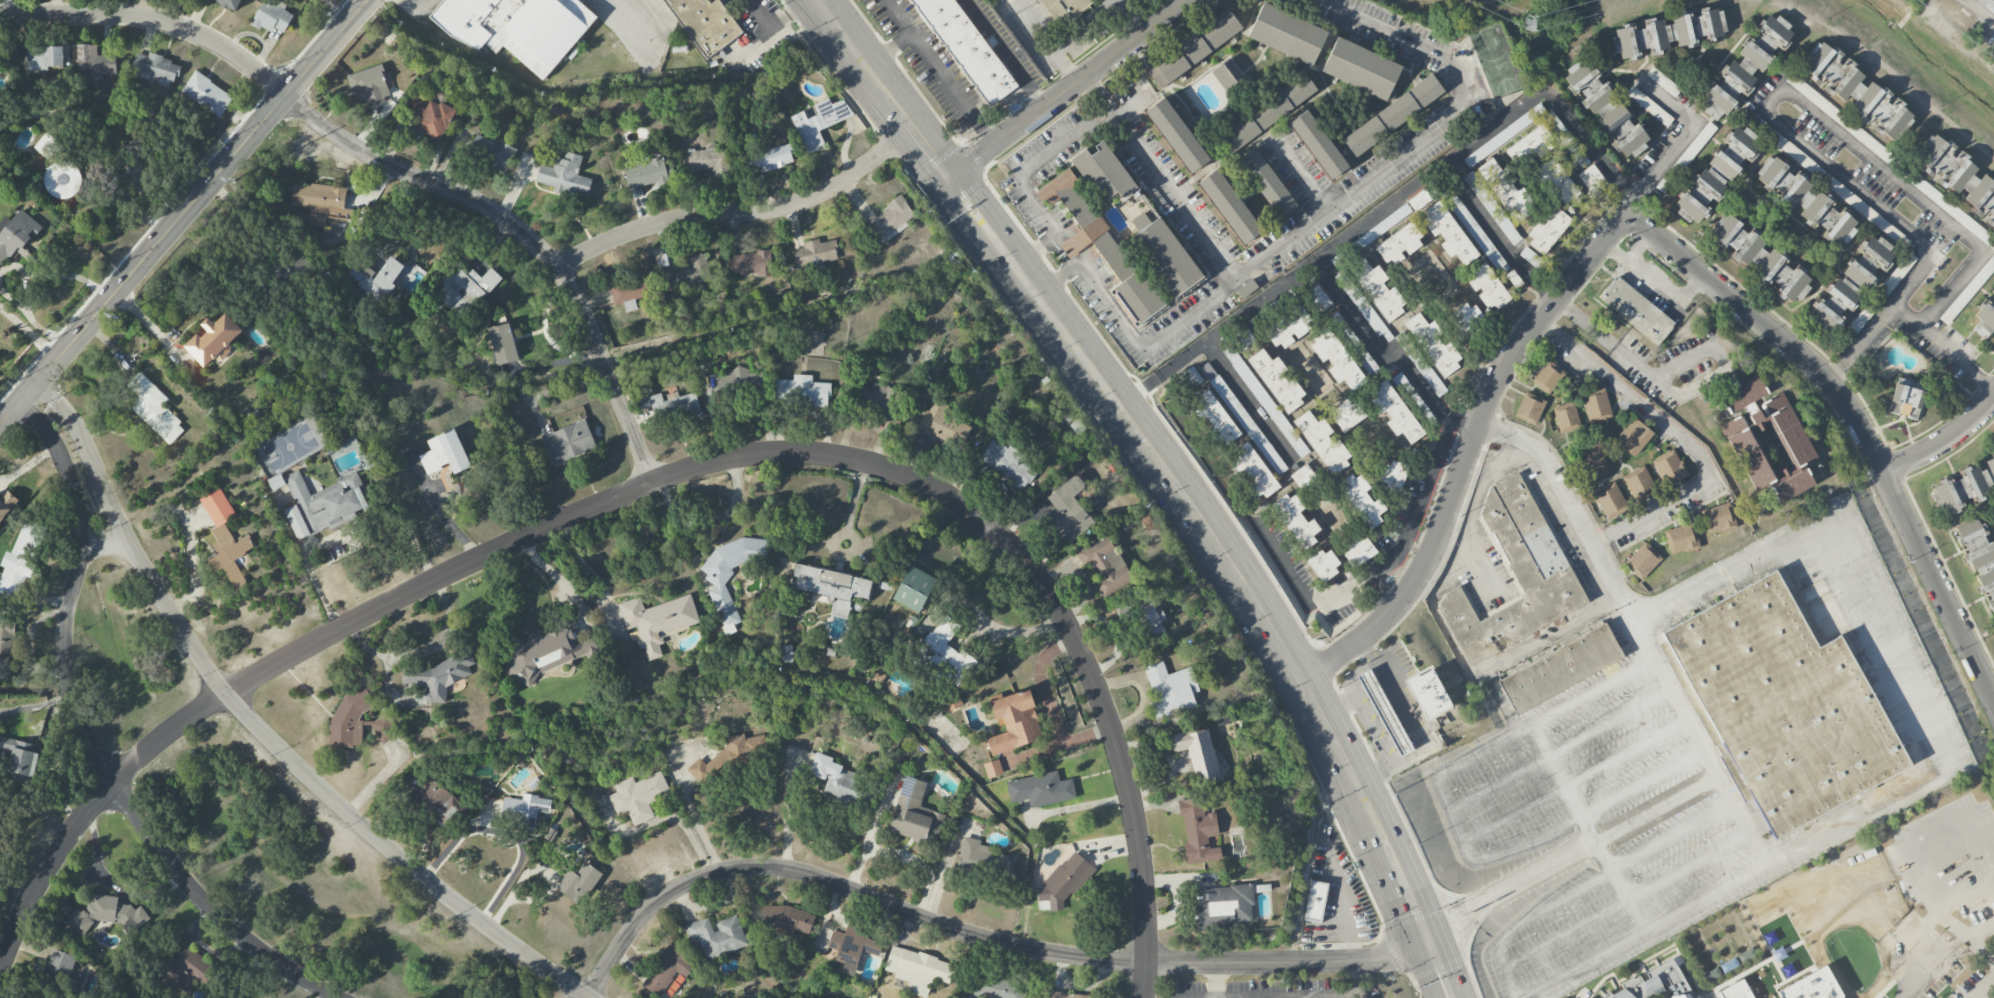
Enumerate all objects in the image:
building: (999, 0)
building: (229, 4)
building: (1988, 5)
road: (419, 8)
building: (1064, 9)
road: (339, 10)
road: (1979, 12)
building: (271, 16)
road: (1131, 16)
building: (704, 24)
power tower: (1523, 25)
building: (517, 27)
building: (1287, 33)
building: (1668, 33)
building: (967, 48)
road: (1045, 48)
building: (1193, 48)
road: (888, 49)
road: (1011, 52)
building: (44, 57)
road: (648, 61)
building: (93, 64)
building: (1746, 65)
building: (1361, 68)
building: (154, 69)
road: (941, 74)
building: (1229, 76)
building: (1662, 81)
building: (370, 85)
road: (1068, 90)
building: (1857, 90)
road: (883, 91)
road: (1094, 93)
building: (206, 94)
building: (1596, 94)
building: (442, 97)
road: (1796, 99)
building: (1826, 107)
road: (1130, 108)
building: (1268, 112)
building: (1393, 114)
building: (429, 115)
building: (819, 123)
building: (1177, 134)
building: (1629, 138)
building: (1318, 145)
building: (1530, 145)
road: (1679, 145)
building: (47, 146)
building: (483, 147)
building: (709, 159)
building: (770, 159)
road: (390, 164)
building: (1103, 171)
building: (646, 173)
road: (1300, 173)
building: (1717, 174)
building: (1957, 174)
building: (565, 176)
building: (1591, 179)
building: (1555, 181)
power tower: (236, 182)
building: (1266, 182)
traffic signals: (952, 183)
building: (1507, 191)
road: (123, 195)
building: (1419, 199)
road: (1392, 200)
building: (1806, 200)
building: (318, 201)
building: (1230, 206)
building: (1492, 208)
road: (185, 210)
building: (1953, 212)
road: (741, 213)
building: (891, 220)
building: (1383, 226)
building: (1548, 231)
road: (1497, 232)
building: (1476, 233)
building: (1448, 234)
building: (1100, 243)
building: (1399, 244)
road: (1638, 248)
building: (814, 252)
building: (1165, 254)
building: (1759, 257)
building: (751, 263)
building: (385, 276)
road: (23, 278)
road: (1233, 279)
road: (1652, 280)
building: (659, 281)
building: (1851, 283)
building: (1246, 288)
building: (1488, 288)
building: (465, 289)
building: (1378, 290)
road: (12, 298)
building: (1318, 298)
building: (1635, 309)
road: (1904, 312)
building: (1985, 317)
building: (1467, 318)
power tower: (116, 320)
road: (1584, 321)
building: (1290, 328)
road: (43, 330)
road: (29, 331)
building: (1243, 339)
building: (214, 340)
road: (1138, 342)
building: (813, 343)
building: (502, 344)
building: (1433, 344)
road: (1390, 351)
building: (1336, 359)
building: (1424, 369)
building: (1548, 376)
building: (1190, 378)
building: (740, 380)
building: (1277, 380)
road: (1705, 380)
building: (801, 391)
building: (878, 398)
building: (1906, 398)
road: (1247, 399)
building: (1265, 402)
building: (1596, 404)
building: (151, 406)
building: (673, 406)
building: (1529, 407)
building: (1394, 412)
building: (1347, 414)
building: (1566, 416)
building: (1216, 418)
road: (1858, 420)
building: (1246, 423)
building: (943, 424)
building: (1633, 436)
road: (1683, 438)
building: (1766, 438)
building: (568, 442)
building: (1323, 442)
building: (347, 443)
road: (1944, 443)
road: (1467, 452)
building: (445, 453)
building: (1592, 457)
building: (1007, 463)
building: (1670, 467)
building: (1253, 472)
building: (1392, 476)
building: (1303, 477)
building: (276, 481)
road: (653, 482)
building: (1639, 483)
building: (1964, 486)
road: (1421, 492)
road: (736, 500)
building: (1362, 500)
building: (1609, 500)
building: (6, 503)
building: (324, 504)
road: (438, 509)
building: (1068, 510)
building: (1718, 517)
building: (1297, 521)
building: (1681, 537)
building: (225, 538)
road: (1217, 544)
road: (1817, 545)
road: (105, 547)
building: (1358, 551)
building: (20, 559)
building: (1979, 559)
building: (1642, 560)
building: (1324, 564)
building: (1104, 566)
building: (1515, 575)
road: (596, 576)
road: (562, 581)
building: (718, 581)
road: (1719, 581)
building: (832, 587)
building: (914, 589)
road: (1320, 595)
building: (1151, 619)
building: (657, 621)
road: (1896, 628)
road: (1445, 630)
road: (1643, 641)
building: (6, 648)
road: (1866, 650)
building: (543, 652)
building: (787, 653)
building: (946, 653)
building: (1559, 668)
road: (1352, 675)
building: (439, 676)
building: (1170, 690)
building: (1428, 693)
building: (950, 702)
building: (1783, 702)
road: (1050, 708)
building: (1384, 712)
building: (349, 716)
road: (1405, 725)
building: (383, 729)
building: (1011, 730)
road: (1925, 730)
road: (263, 731)
road: (1397, 738)
road: (84, 740)
building: (1197, 752)
road: (1412, 754)
building: (20, 759)
building: (921, 763)
road: (1373, 763)
road: (1454, 767)
building: (842, 782)
road: (1925, 787)
building: (1040, 789)
building: (430, 795)
building: (638, 796)
road: (688, 800)
road: (789, 808)
building: (524, 809)
building: (915, 814)
road: (661, 818)
building: (1198, 831)
road: (508, 832)
road: (1811, 838)
road: (869, 844)
building: (983, 859)
road: (1538, 874)
road: (1913, 877)
building: (579, 883)
building: (1063, 883)
road: (1719, 889)
road: (1438, 895)
building: (1315, 901)
building: (1222, 906)
building: (107, 914)
building: (786, 920)
road: (1454, 923)
road: (1346, 924)
road: (1952, 926)
road: (973, 933)
road: (1464, 934)
building: (716, 935)
traffic signals: (1424, 941)
road: (1972, 942)
building: (852, 948)
road: (1450, 965)
building: (59, 966)
building: (189, 969)
building: (667, 970)
building: (917, 970)
road: (1424, 970)
building: (1711, 974)
road: (1145, 979)
road: (1356, 979)
road: (1217, 980)
building: (1655, 983)
road: (1983, 987)
building: (1063, 995)
road: (1302, 996)

